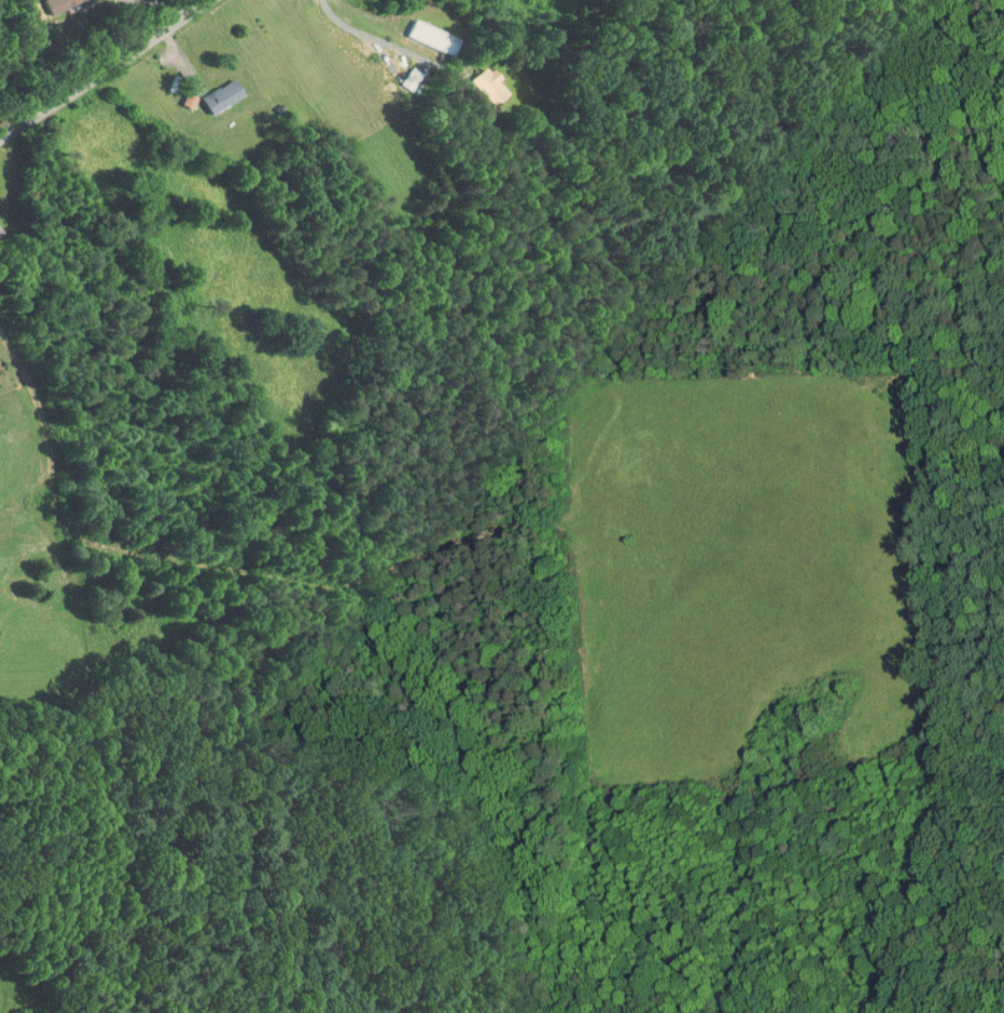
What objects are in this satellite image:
building: (48, 3)
building: (423, 32)
road: (374, 36)
road: (106, 74)
building: (479, 80)
building: (212, 91)

